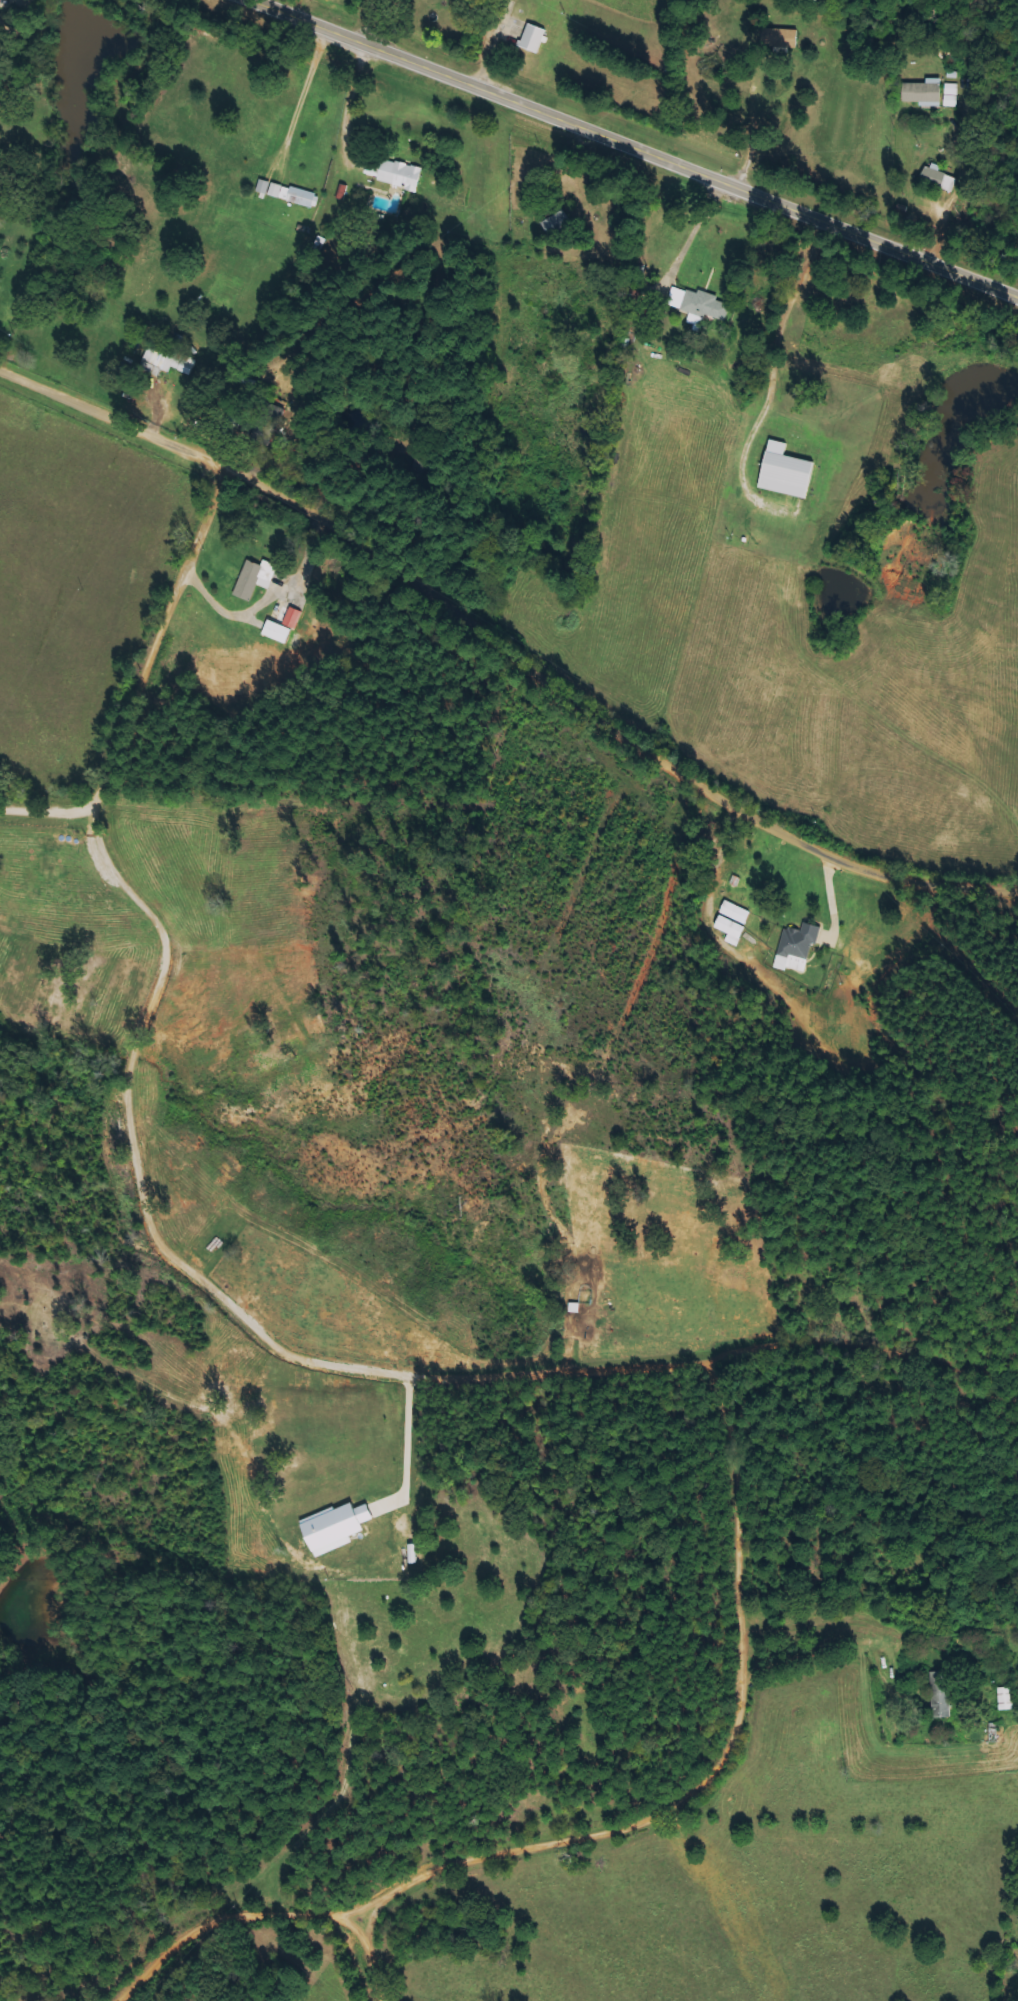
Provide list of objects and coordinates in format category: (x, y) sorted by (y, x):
building: (530, 38)
building: (780, 39)
building: (921, 93)
building: (950, 95)
road: (628, 150)
building: (395, 174)
building: (936, 178)
building: (286, 194)
building: (704, 305)
building: (170, 360)
building: (782, 471)
building: (252, 578)
building: (291, 618)
building: (275, 631)
road: (502, 651)
road: (135, 675)
building: (734, 912)
building: (729, 929)
building: (795, 943)
building: (332, 1528)
building: (414, 1554)
building: (939, 1694)
building: (1004, 1699)
road: (260, 1909)

